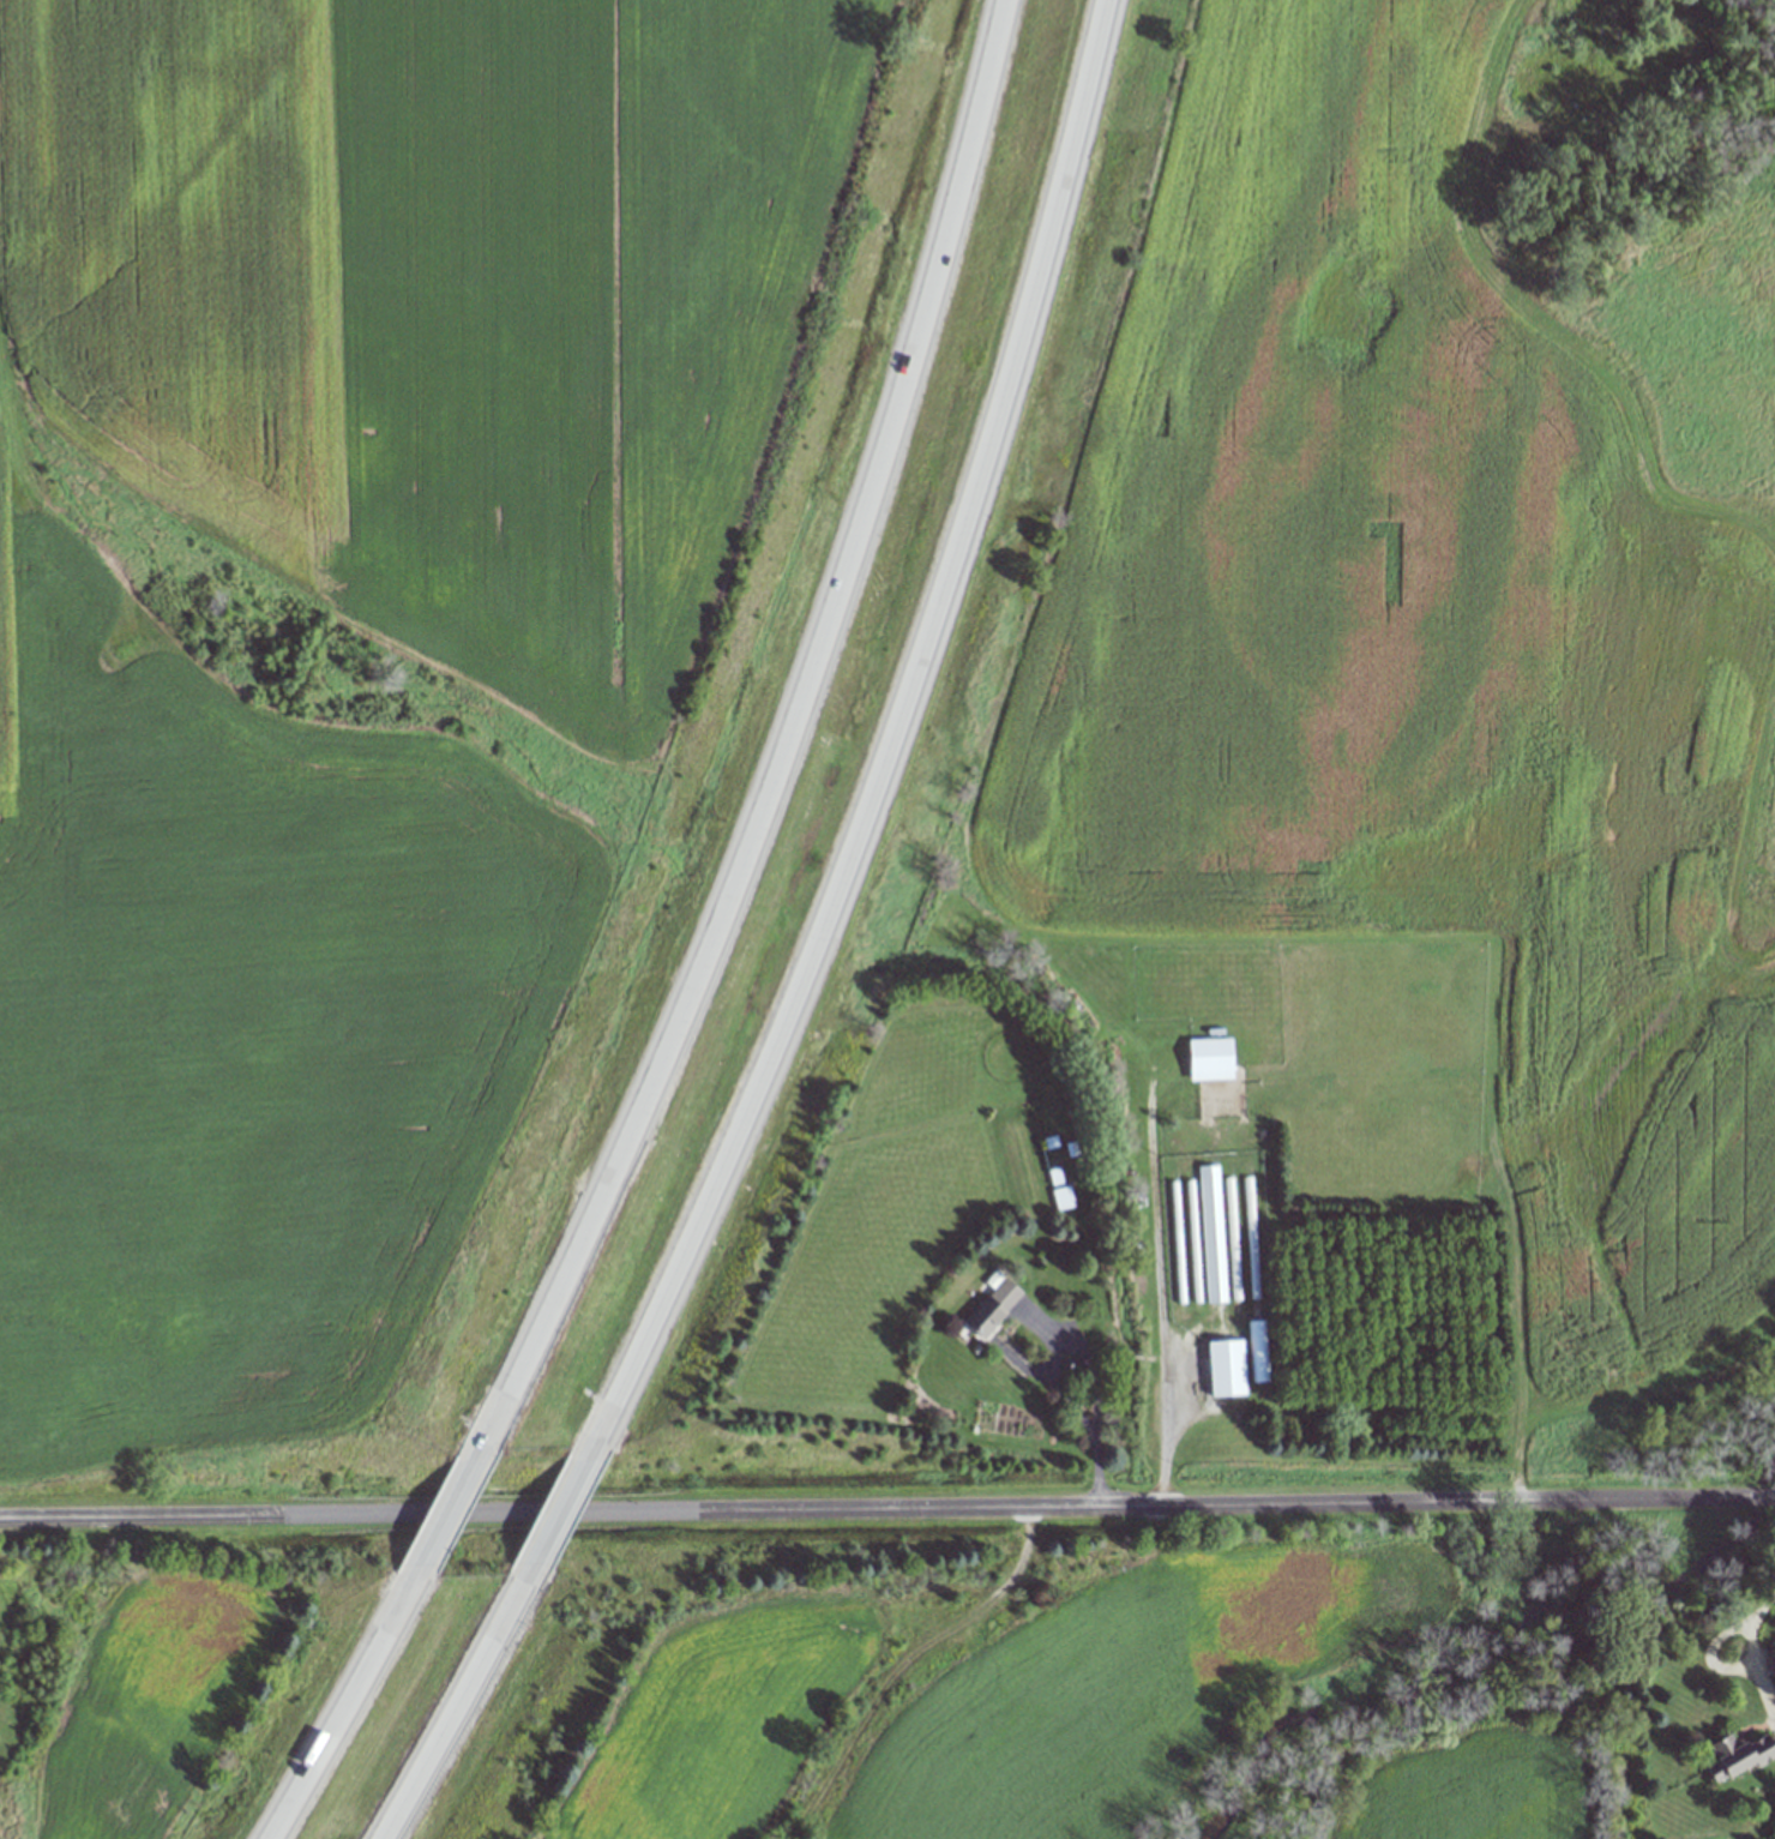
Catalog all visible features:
road: (782, 729)
road: (902, 738)
building: (1214, 1077)
building: (1057, 1158)
building: (1209, 1232)
building: (1250, 1237)
building: (1231, 1238)
road: (1159, 1305)
building: (994, 1306)
road: (1084, 1365)
building: (1227, 1368)
road: (459, 1503)
road: (887, 1506)
road: (559, 1519)
road: (1753, 1648)
road: (353, 1705)
road: (449, 1718)
building: (1739, 1756)

